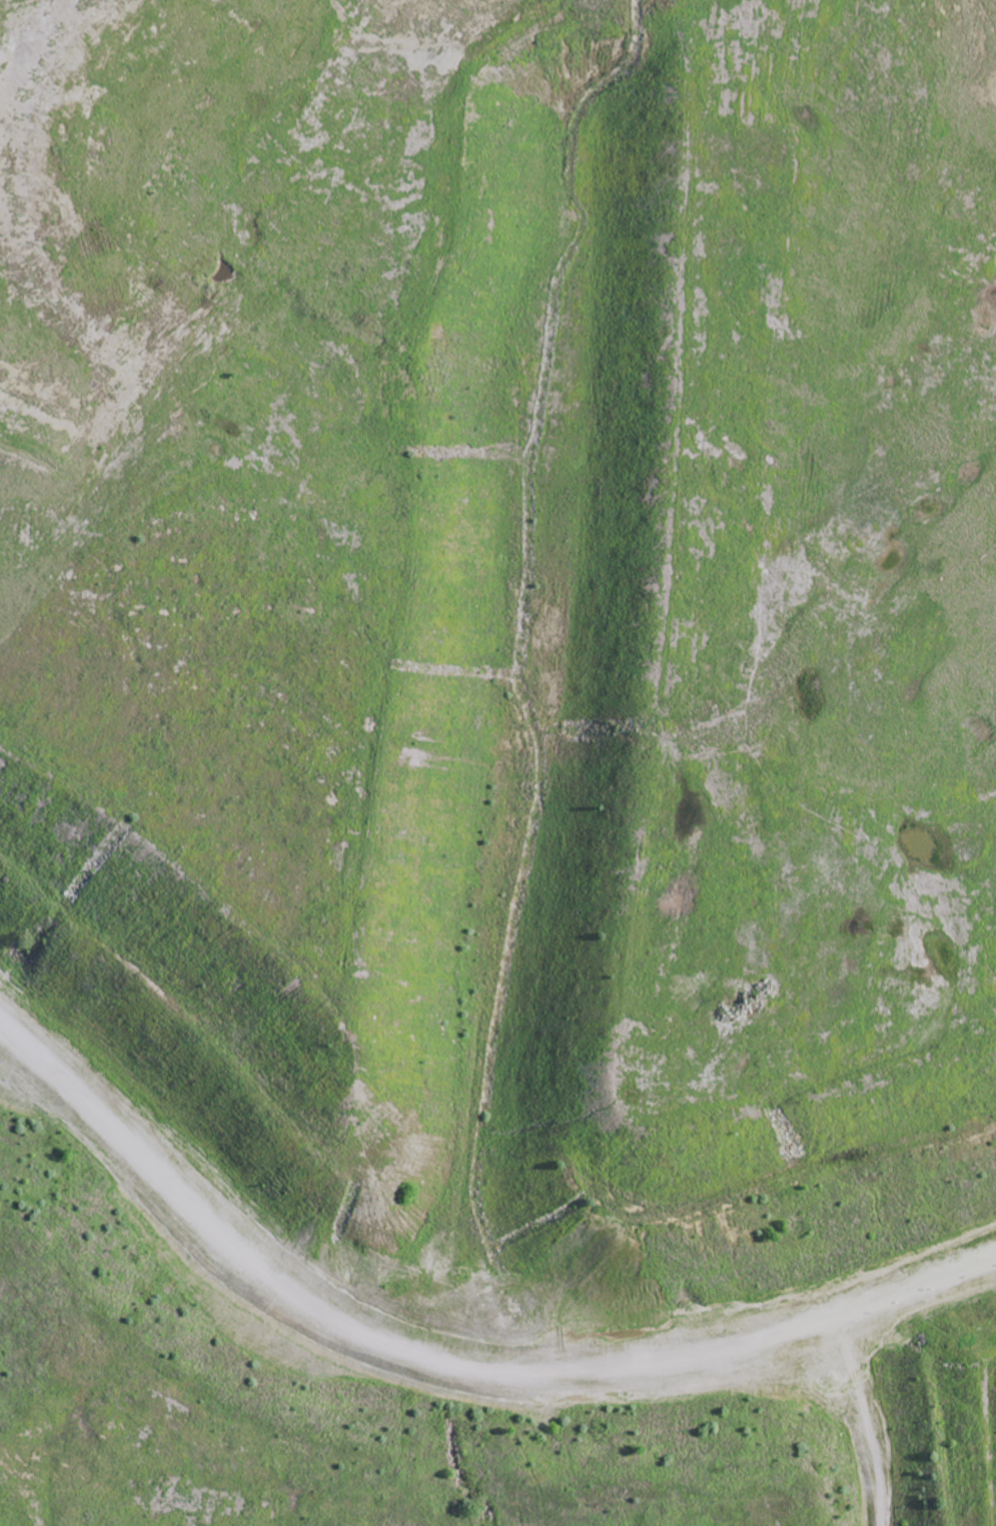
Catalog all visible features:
quarry: (521, 676)
road: (446, 1375)

